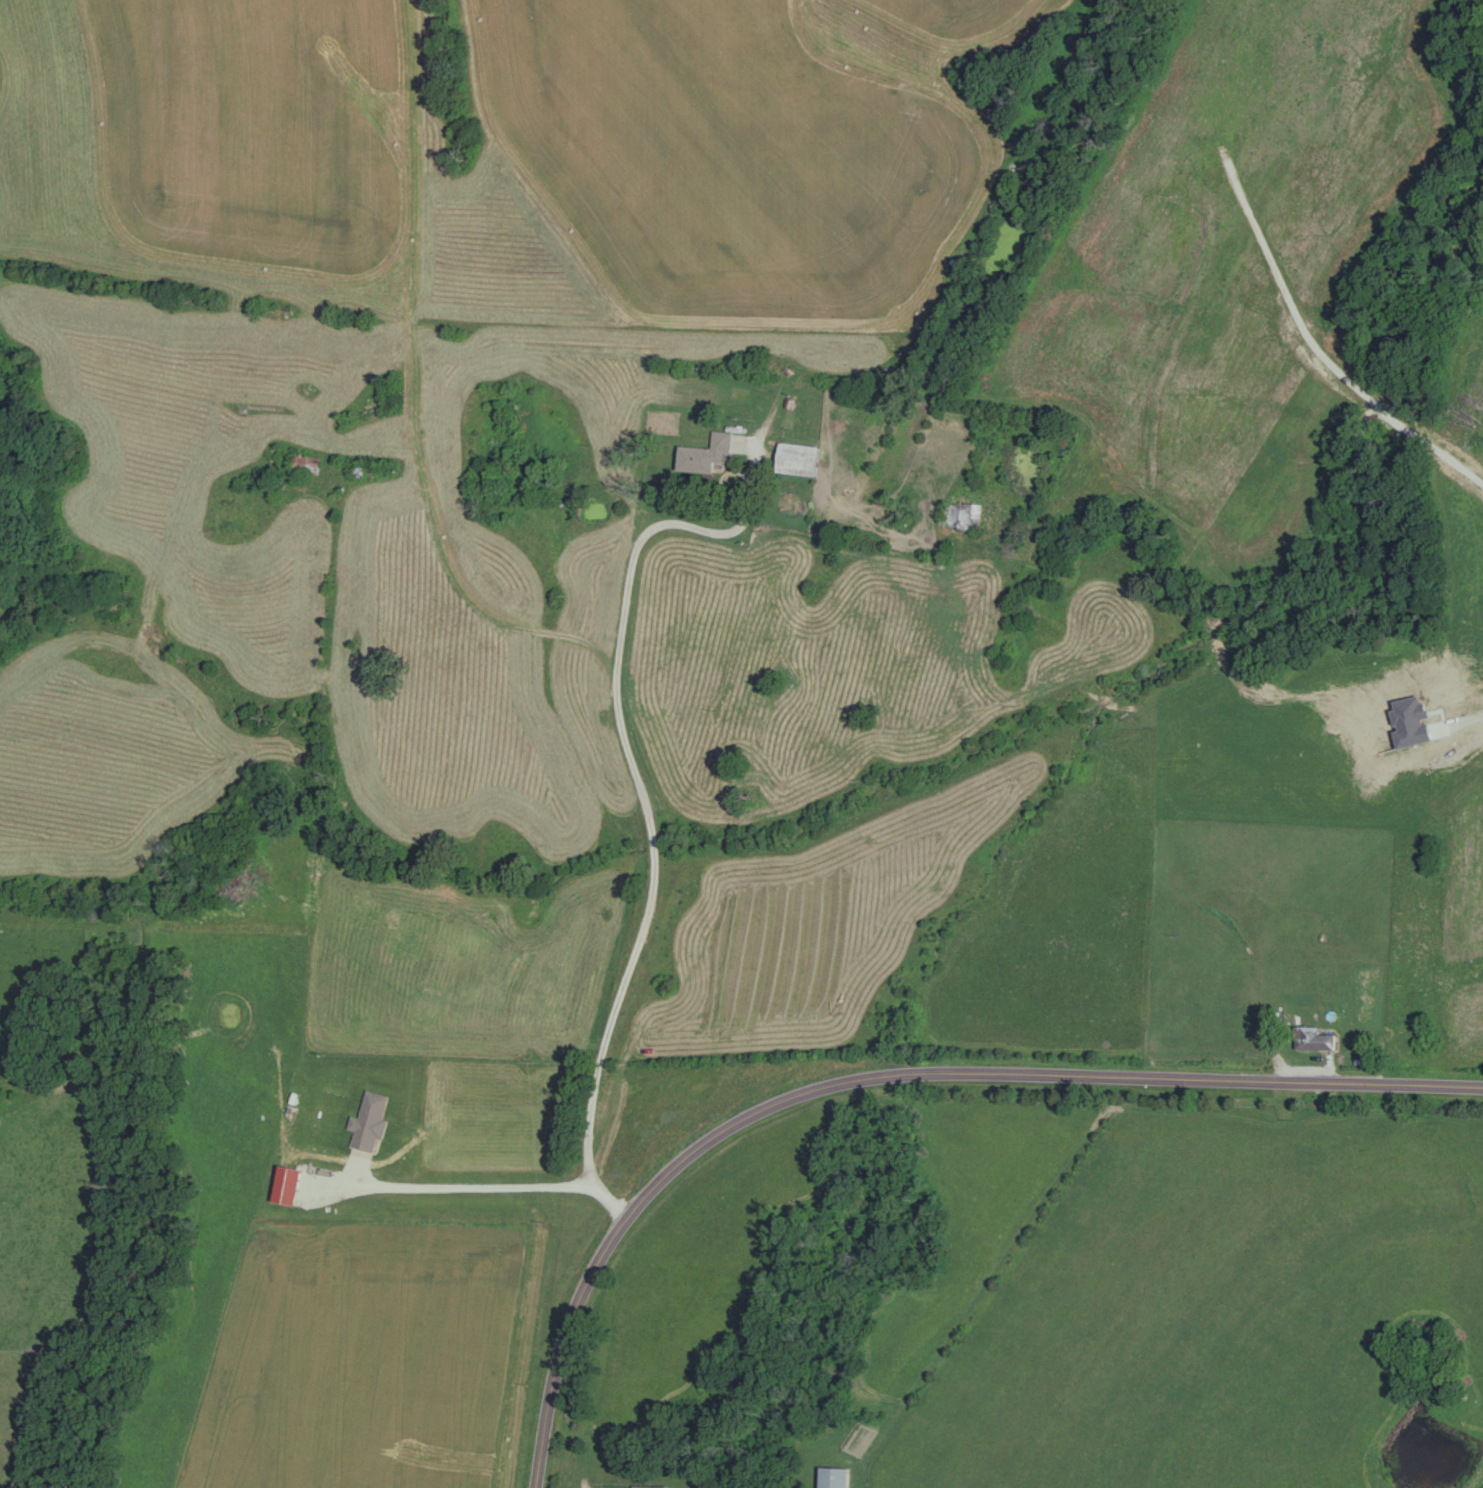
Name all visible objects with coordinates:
building: (705, 455)
building: (797, 460)
building: (305, 466)
building: (961, 519)
road: (840, 553)
road: (441, 555)
road: (643, 791)
building: (1313, 1039)
road: (953, 1076)
road: (466, 1187)
road: (550, 1427)
building: (835, 1478)
building: (649, 1487)

